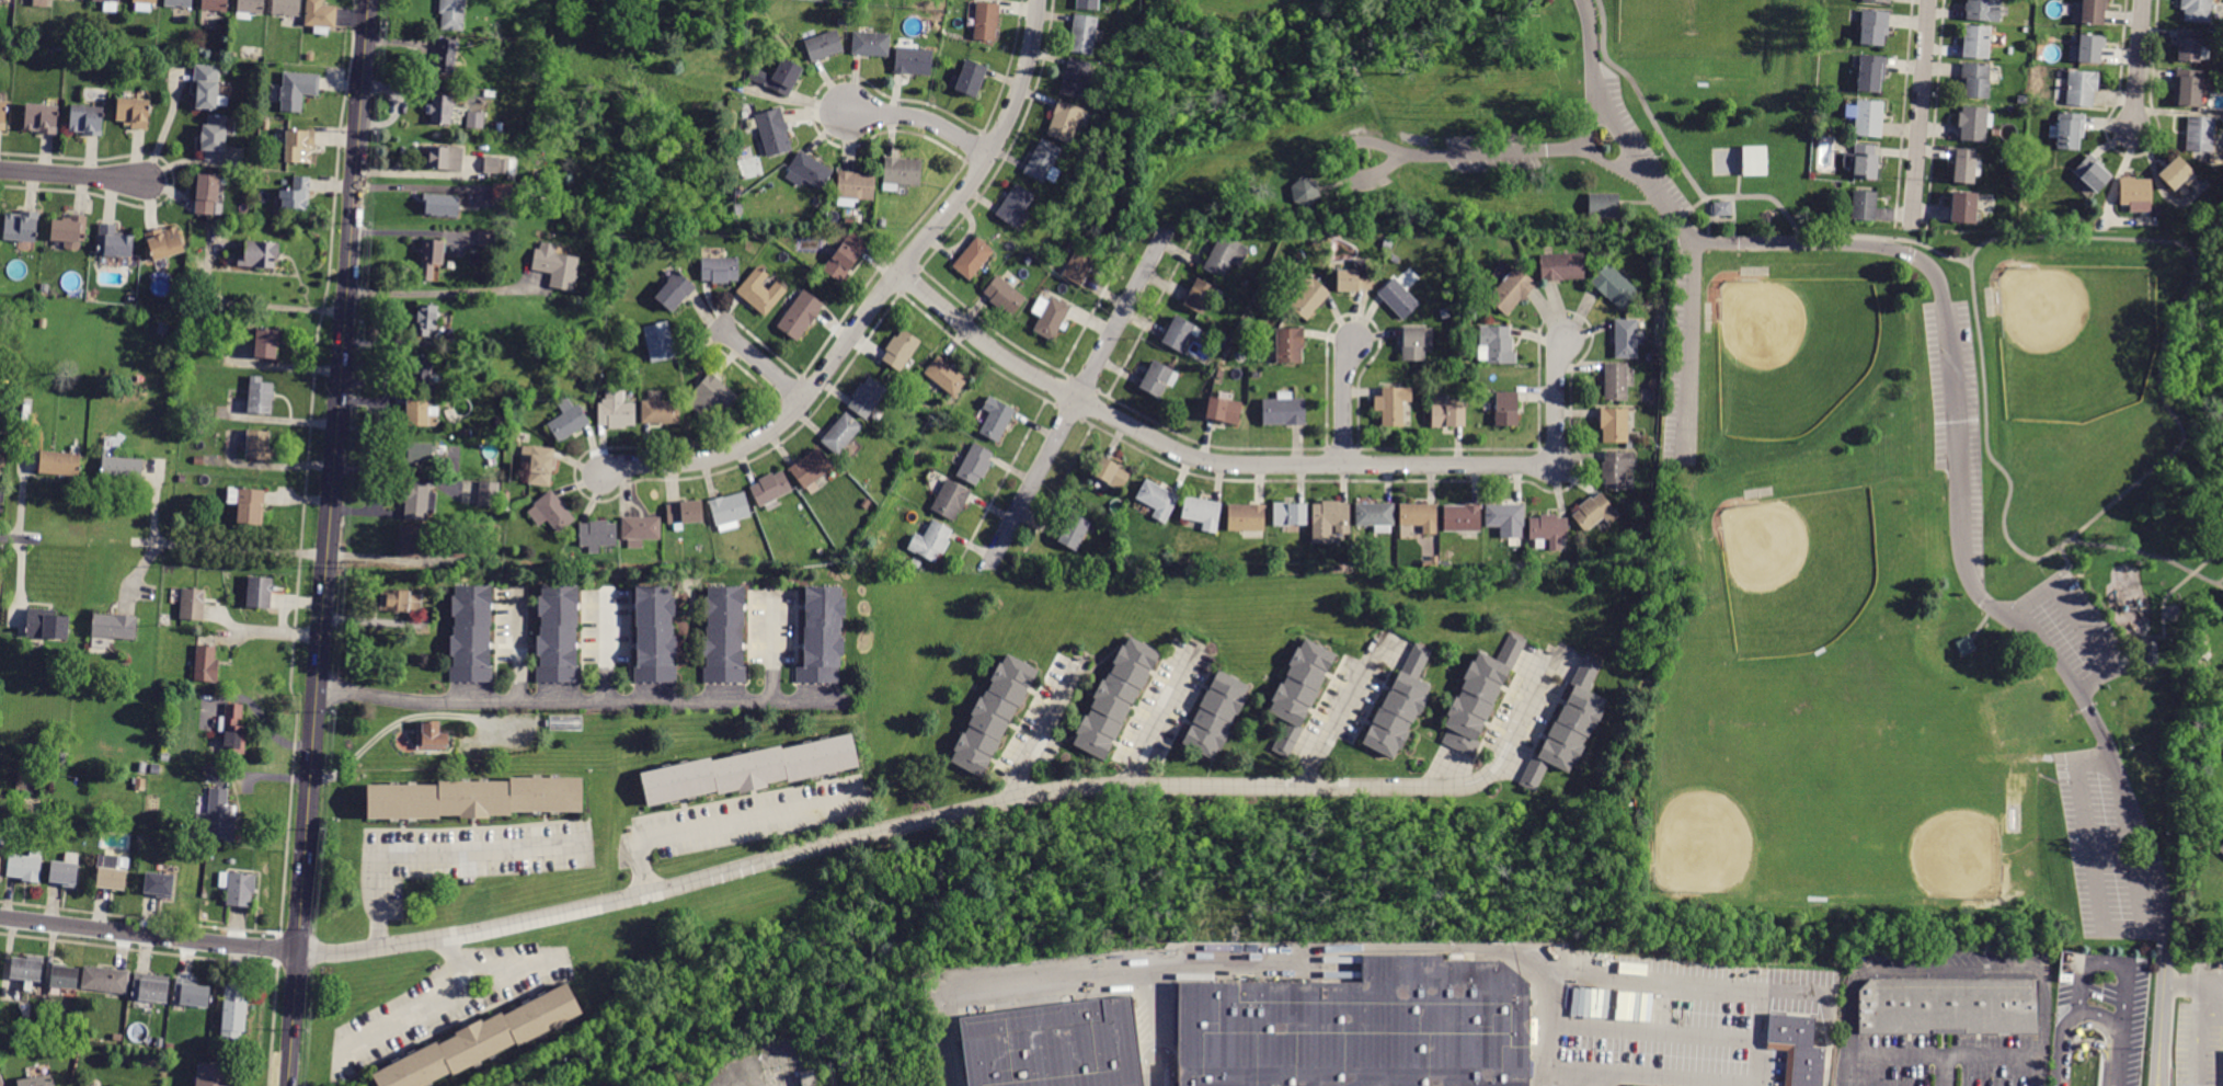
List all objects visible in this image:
building: (1878, 1)
building: (41, 3)
building: (179, 3)
building: (108, 4)
building: (1087, 4)
building: (144, 5)
building: (215, 5)
building: (287, 8)
building: (250, 9)
park: (1240, 9)
building: (2196, 10)
building: (1983, 11)
building: (2093, 11)
building: (451, 14)
building: (320, 16)
building: (986, 22)
building: (1873, 26)
park: (1687, 30)
building: (2212, 30)
building: (1082, 35)
building: (779, 42)
building: (1975, 42)
building: (871, 44)
building: (824, 46)
building: (2188, 46)
building: (2086, 49)
building: (445, 57)
building: (912, 59)
road: (2138, 65)
building: (1871, 73)
building: (778, 78)
building: (969, 78)
building: (1075, 78)
building: (1975, 79)
building: (209, 88)
building: (2082, 88)
building: (2187, 88)
building: (299, 89)
road: (1642, 102)
building: (440, 110)
road: (1920, 112)
building: (133, 113)
building: (3, 114)
building: (43, 117)
road: (923, 118)
building: (1868, 118)
building: (85, 119)
building: (474, 119)
building: (1067, 122)
building: (1974, 123)
road: (167, 128)
road: (1619, 128)
building: (2069, 130)
building: (771, 132)
building: (2200, 134)
building: (214, 138)
building: (299, 146)
road: (1419, 153)
building: (444, 158)
road: (1596, 158)
building: (1860, 160)
building: (1754, 161)
building: (1043, 162)
building: (1966, 164)
building: (500, 165)
building: (809, 171)
building: (901, 173)
building: (2092, 173)
building: (2175, 173)
road: (73, 174)
building: (855, 187)
building: (1305, 190)
building: (502, 192)
building: (2134, 192)
building: (296, 193)
road: (1752, 194)
building: (207, 195)
building: (1603, 205)
building: (442, 206)
building: (1015, 206)
building: (1864, 206)
building: (738, 208)
building: (1722, 208)
building: (1963, 208)
building: (848, 221)
building: (22, 226)
building: (70, 232)
building: (485, 239)
building: (114, 242)
building: (164, 242)
road: (1920, 242)
building: (1387, 244)
building: (259, 255)
building: (845, 256)
building: (1225, 256)
building: (429, 258)
building: (973, 259)
building: (557, 266)
building: (1562, 266)
building: (719, 267)
building: (1078, 267)
building: (1354, 277)
building: (1615, 287)
building: (674, 289)
building: (1511, 290)
road: (435, 291)
building: (760, 291)
building: (592, 295)
building: (1004, 296)
building: (1201, 296)
building: (1308, 296)
building: (1398, 298)
road: (875, 299)
building: (1444, 313)
building: (800, 315)
building: (1050, 317)
building: (426, 320)
building: (34, 322)
building: (196, 324)
building: (163, 328)
building: (1180, 334)
building: (1626, 339)
park: (2073, 340)
building: (264, 342)
building: (660, 342)
building: (1224, 342)
building: (1416, 342)
building: (1290, 344)
building: (1498, 344)
building: (901, 350)
road: (1692, 351)
park: (1795, 352)
building: (1647, 357)
road: (761, 363)
building: (423, 375)
building: (946, 375)
building: (1221, 375)
building: (1158, 379)
building: (1616, 382)
building: (712, 396)
building: (260, 397)
building: (1467, 397)
building: (867, 398)
road: (1078, 398)
road: (1343, 402)
building: (1391, 404)
building: (615, 409)
building: (1506, 409)
building: (1283, 410)
building: (661, 411)
building: (1224, 411)
building: (420, 413)
building: (1447, 416)
building: (566, 419)
building: (996, 419)
building: (1614, 425)
building: (841, 434)
building: (257, 445)
park: (1799, 445)
building: (419, 454)
building: (199, 460)
building: (59, 461)
building: (538, 462)
building: (975, 465)
road: (1262, 465)
building: (123, 467)
building: (811, 469)
building: (1616, 469)
building: (1112, 472)
road: (2136, 477)
building: (183, 479)
building: (770, 490)
building: (488, 493)
building: (506, 496)
building: (416, 500)
building: (950, 500)
building: (1158, 500)
building: (866, 504)
building: (248, 505)
building: (505, 508)
building: (551, 511)
building: (729, 511)
building: (1595, 512)
building: (685, 513)
building: (1202, 513)
building: (1290, 514)
building: (1376, 515)
road: (1959, 516)
building: (1247, 517)
building: (1419, 517)
building: (1462, 517)
building: (1505, 519)
building: (1329, 521)
building: (640, 529)
building: (1074, 531)
building: (1549, 533)
building: (597, 534)
road: (20, 539)
building: (412, 541)
building: (931, 541)
road: (329, 542)
road: (211, 547)
building: (458, 549)
road: (2143, 552)
building: (655, 562)
road: (2069, 562)
building: (915, 564)
park: (1799, 568)
road: (138, 570)
road: (2222, 584)
road: (2222, 585)
building: (260, 591)
road: (289, 601)
building: (400, 601)
building: (193, 603)
road: (2163, 611)
road: (2083, 619)
building: (47, 625)
building: (115, 627)
road: (273, 632)
building: (561, 633)
building: (473, 635)
building: (654, 635)
building: (724, 635)
building: (821, 635)
building: (1966, 645)
road: (775, 649)
road: (519, 652)
road: (607, 652)
building: (2152, 652)
building: (206, 659)
building: (1300, 695)
building: (1118, 698)
building: (1481, 698)
building: (1401, 704)
road: (576, 705)
building: (1219, 715)
building: (997, 716)
road: (403, 719)
road: (1157, 720)
road: (1332, 720)
building: (565, 721)
park: (1818, 725)
building: (1571, 727)
building: (234, 730)
road: (1039, 731)
building: (431, 734)
road: (1516, 736)
building: (164, 757)
building: (61, 758)
building: (141, 767)
building: (153, 768)
building: (752, 769)
building: (140, 784)
building: (479, 798)
park: (1744, 811)
building: (217, 816)
road: (722, 824)
park: (1935, 826)
road: (876, 832)
park: (1831, 848)
building: (2221, 849)
road: (437, 851)
road: (2088, 851)
building: (0, 855)
building: (25, 867)
building: (66, 870)
building: (111, 872)
building: (159, 884)
building: (238, 888)
road: (148, 937)
road: (1334, 947)
road: (455, 960)
road: (2107, 962)
road: (1330, 965)
road: (1949, 968)
building: (26, 969)
building: (65, 978)
building: (105, 980)
road: (2193, 982)
building: (150, 987)
building: (190, 994)
road: (448, 995)
building: (1949, 1007)
building: (232, 1011)
road: (2161, 1015)
road: (1546, 1018)
road: (2062, 1022)
parking lot: (2201, 1022)
road: (2087, 1026)
building: (1357, 1027)
road: (1147, 1028)
road: (1651, 1030)
road: (2196, 1033)
road: (1756, 1038)
building: (483, 1041)
road: (2085, 1042)
building: (1053, 1045)
building: (1798, 1048)
road: (1941, 1053)
road: (2118, 1055)
road: (1169, 1060)
road: (1841, 1070)
road: (1940, 1070)
road: (2040, 1070)
building: (214, 1075)
road: (1536, 1076)
road: (1643, 1076)
road: (1574, 1078)
road: (1601, 1079)
building: (36, 1082)
building: (0, 1083)
building: (84, 1084)

